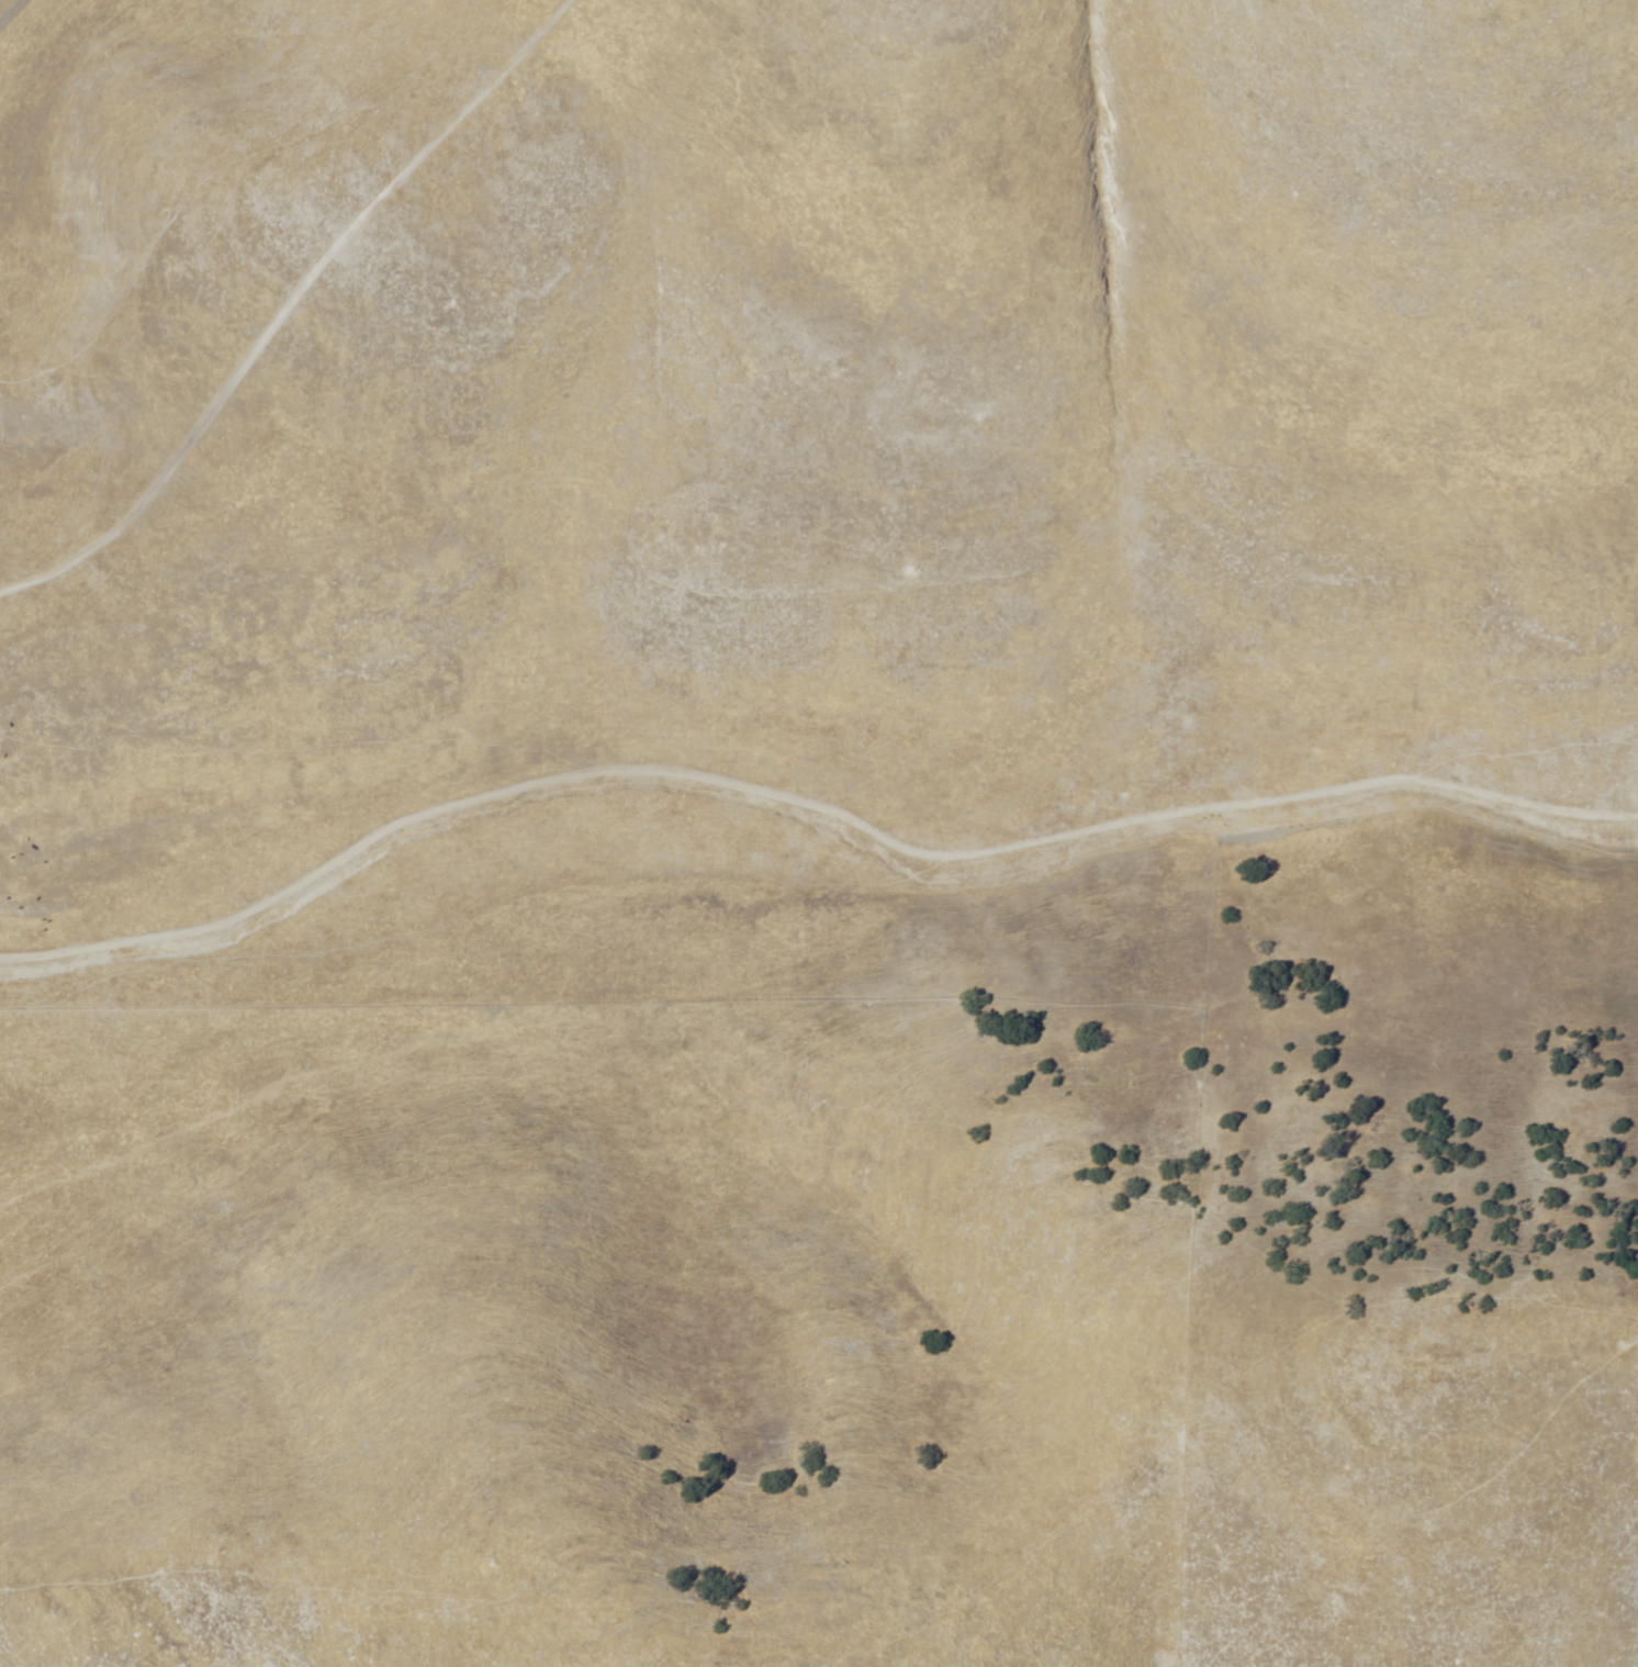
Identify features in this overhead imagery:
road: (25, 31)

